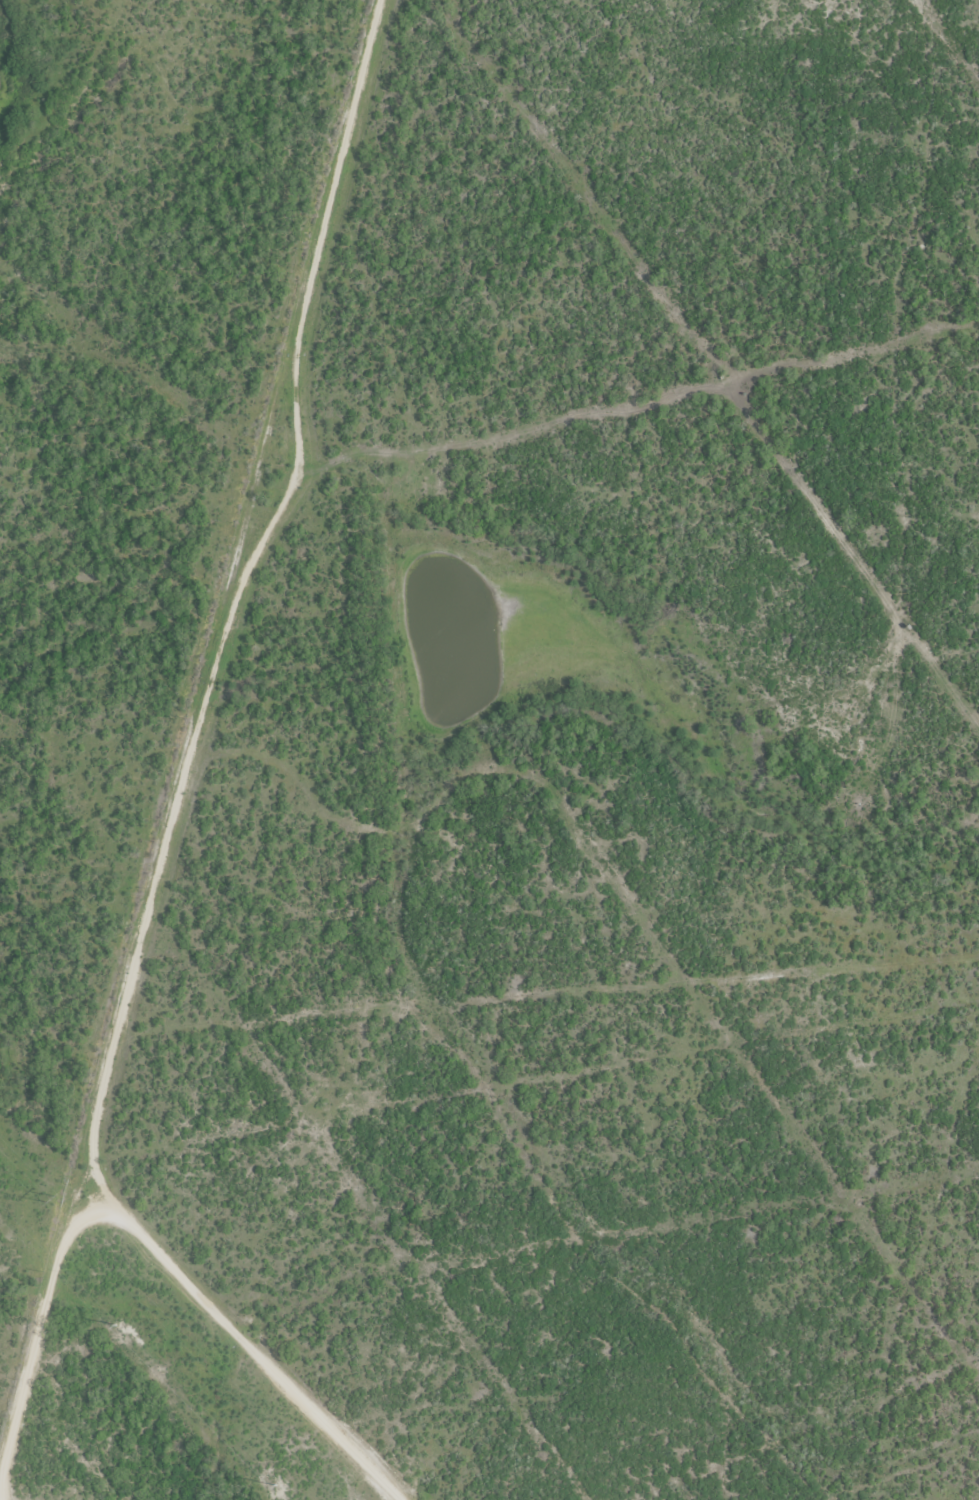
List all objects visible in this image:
power tower: (52, 1201)
power tower: (117, 1327)
power tower: (275, 1485)

